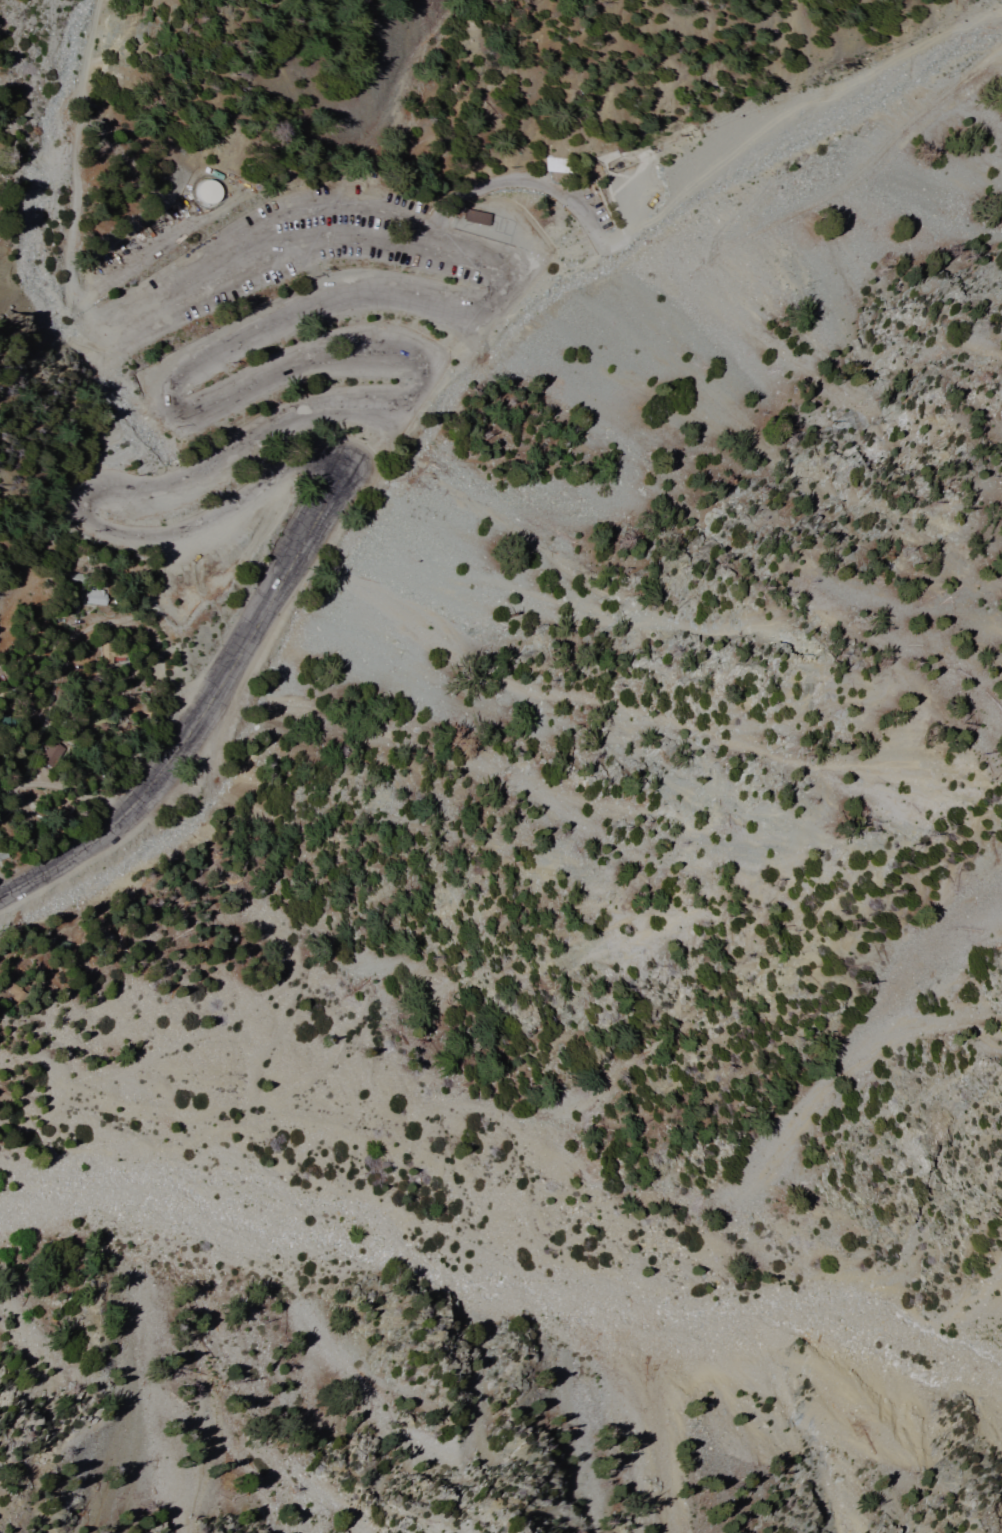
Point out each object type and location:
aerialway pylon: (847, 67)
aerialway pylon: (687, 136)
aerialway pylon: (651, 152)
road: (70, 173)
storage tank: (209, 192)
building: (483, 213)
ski resort: (498, 265)
parking lot: (312, 305)
road: (226, 404)
building: (95, 597)
road: (205, 709)

